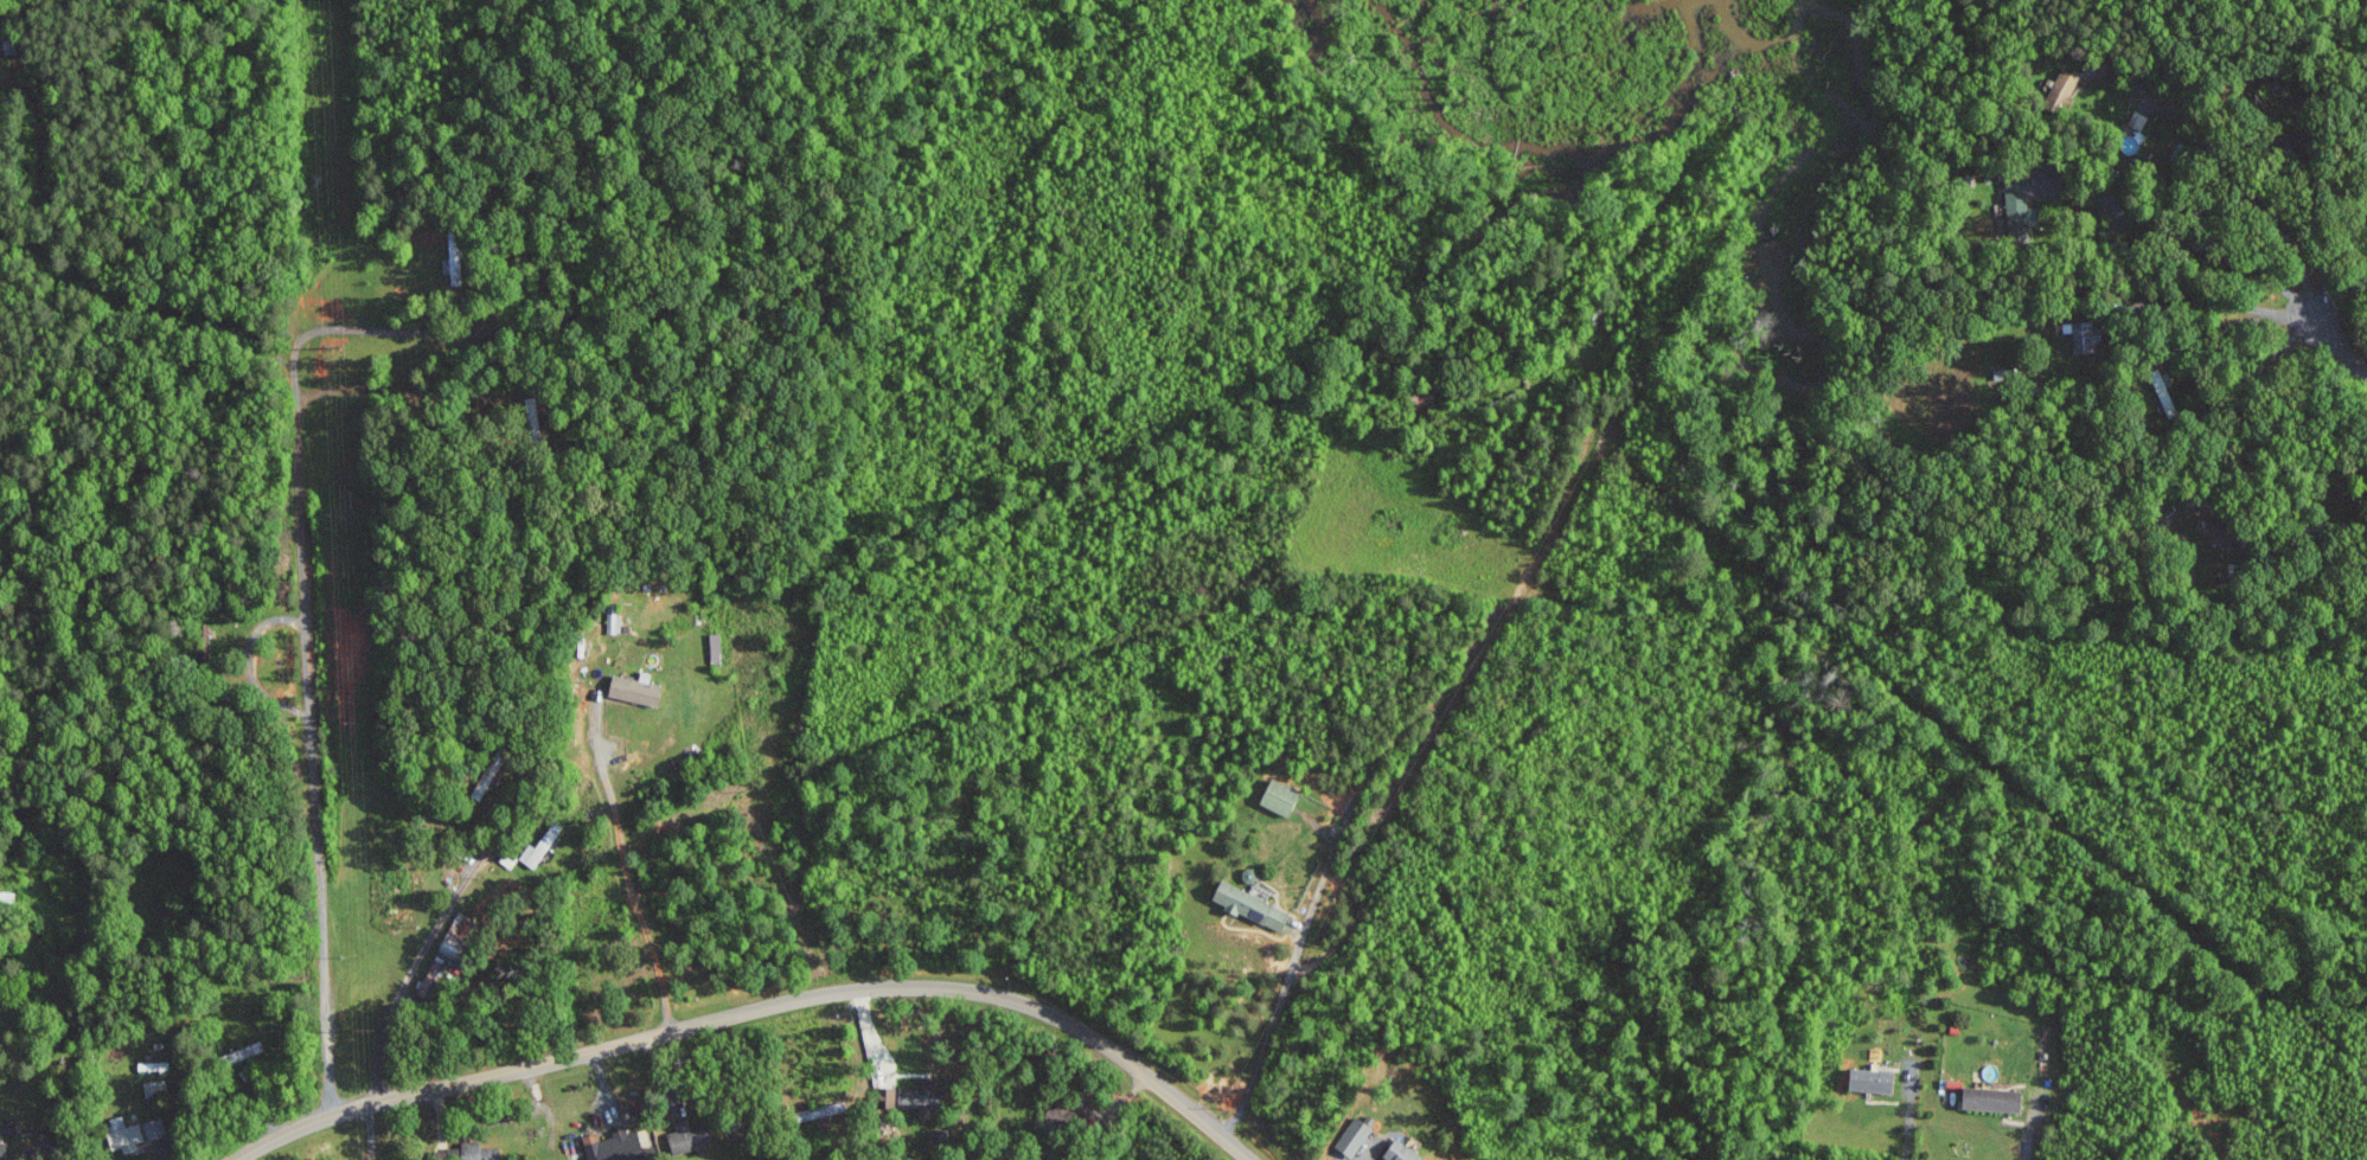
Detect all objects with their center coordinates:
building: (2064, 88)
building: (2138, 120)
road: (2252, 192)
building: (2017, 206)
road: (2208, 246)
building: (455, 258)
road: (2227, 303)
building: (2086, 337)
power tower: (337, 346)
road: (2339, 346)
road: (2247, 391)
building: (2209, 530)
building: (614, 617)
building: (717, 647)
building: (638, 690)
power tower: (352, 720)
road: (312, 731)
building: (1282, 796)
building: (540, 845)
building: (508, 858)
road: (626, 870)
building: (1253, 904)
road: (437, 928)
building: (460, 935)
road: (1291, 970)
road: (757, 1010)
power tower: (366, 1027)
building: (245, 1051)
building: (1874, 1079)
building: (925, 1097)
building: (1994, 1098)
building: (823, 1110)
road: (1908, 1117)
road: (2032, 1130)
building: (126, 1134)
building: (1355, 1135)
building: (690, 1136)
road: (45, 1140)
building: (615, 1146)
building: (4, 1149)
building: (474, 1152)
building: (1403, 1152)

